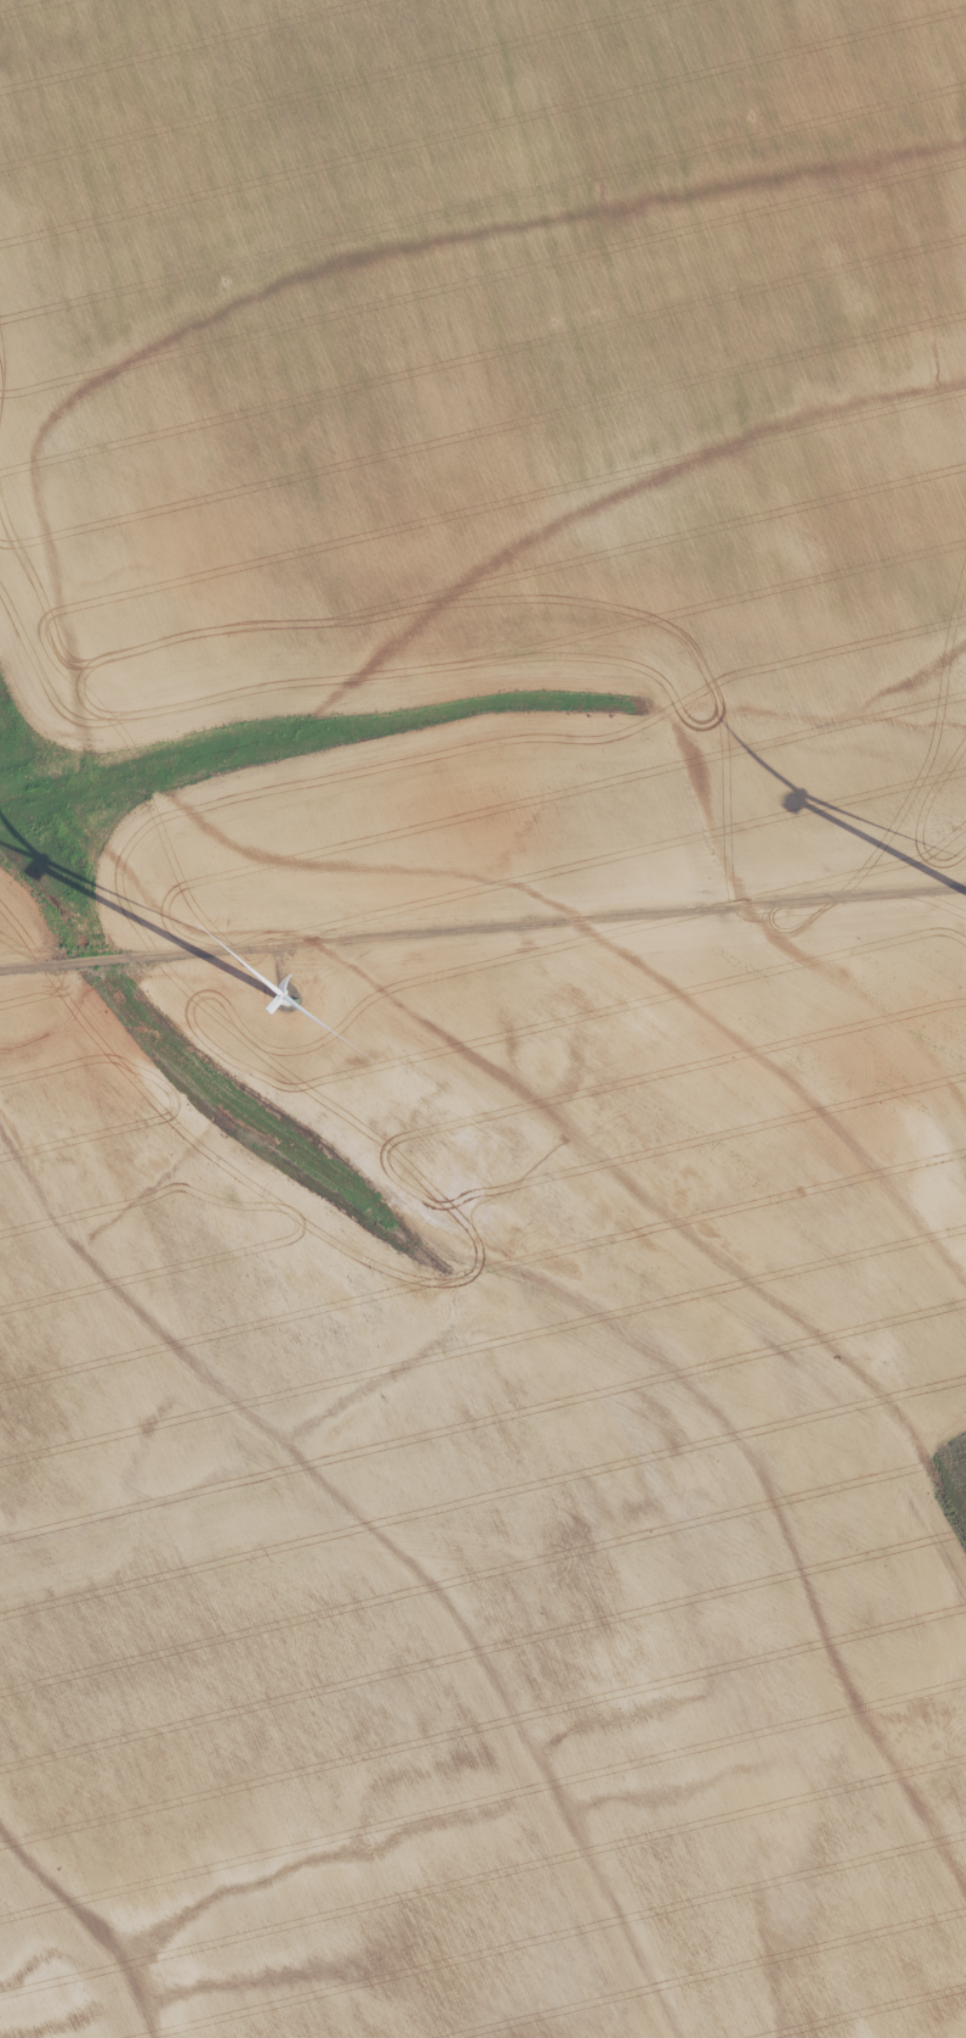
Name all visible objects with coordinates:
wind turbine: (283, 1005)

